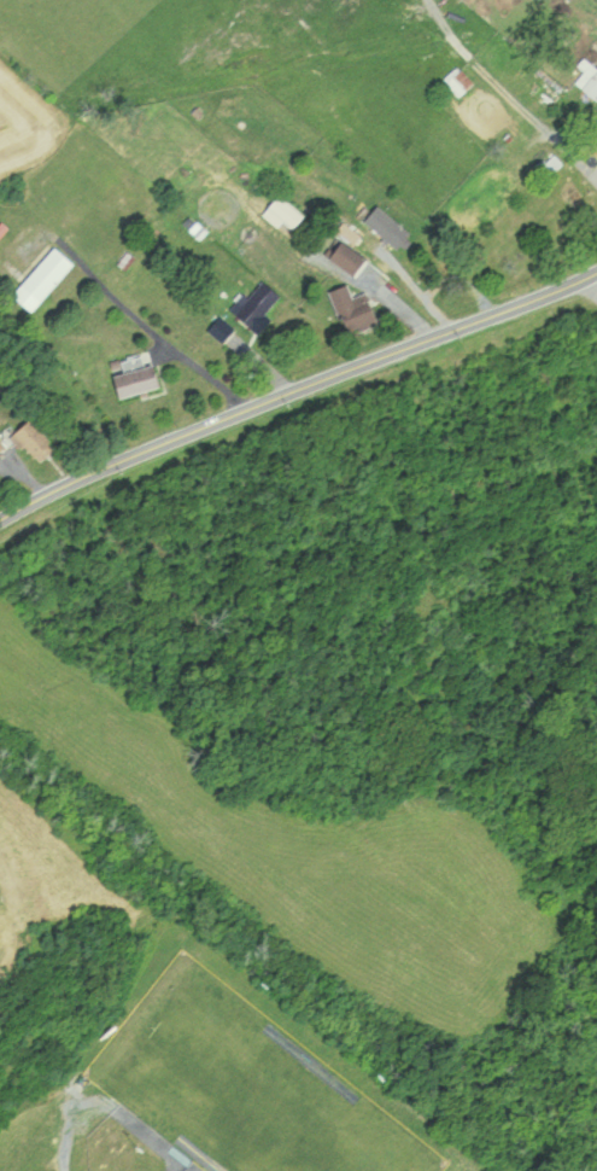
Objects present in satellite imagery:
building: (589, 77)
building: (285, 214)
building: (388, 226)
building: (351, 258)
building: (48, 274)
road: (592, 282)
building: (259, 304)
building: (352, 308)
building: (223, 330)
building: (140, 381)
road: (295, 388)
building: (36, 441)

